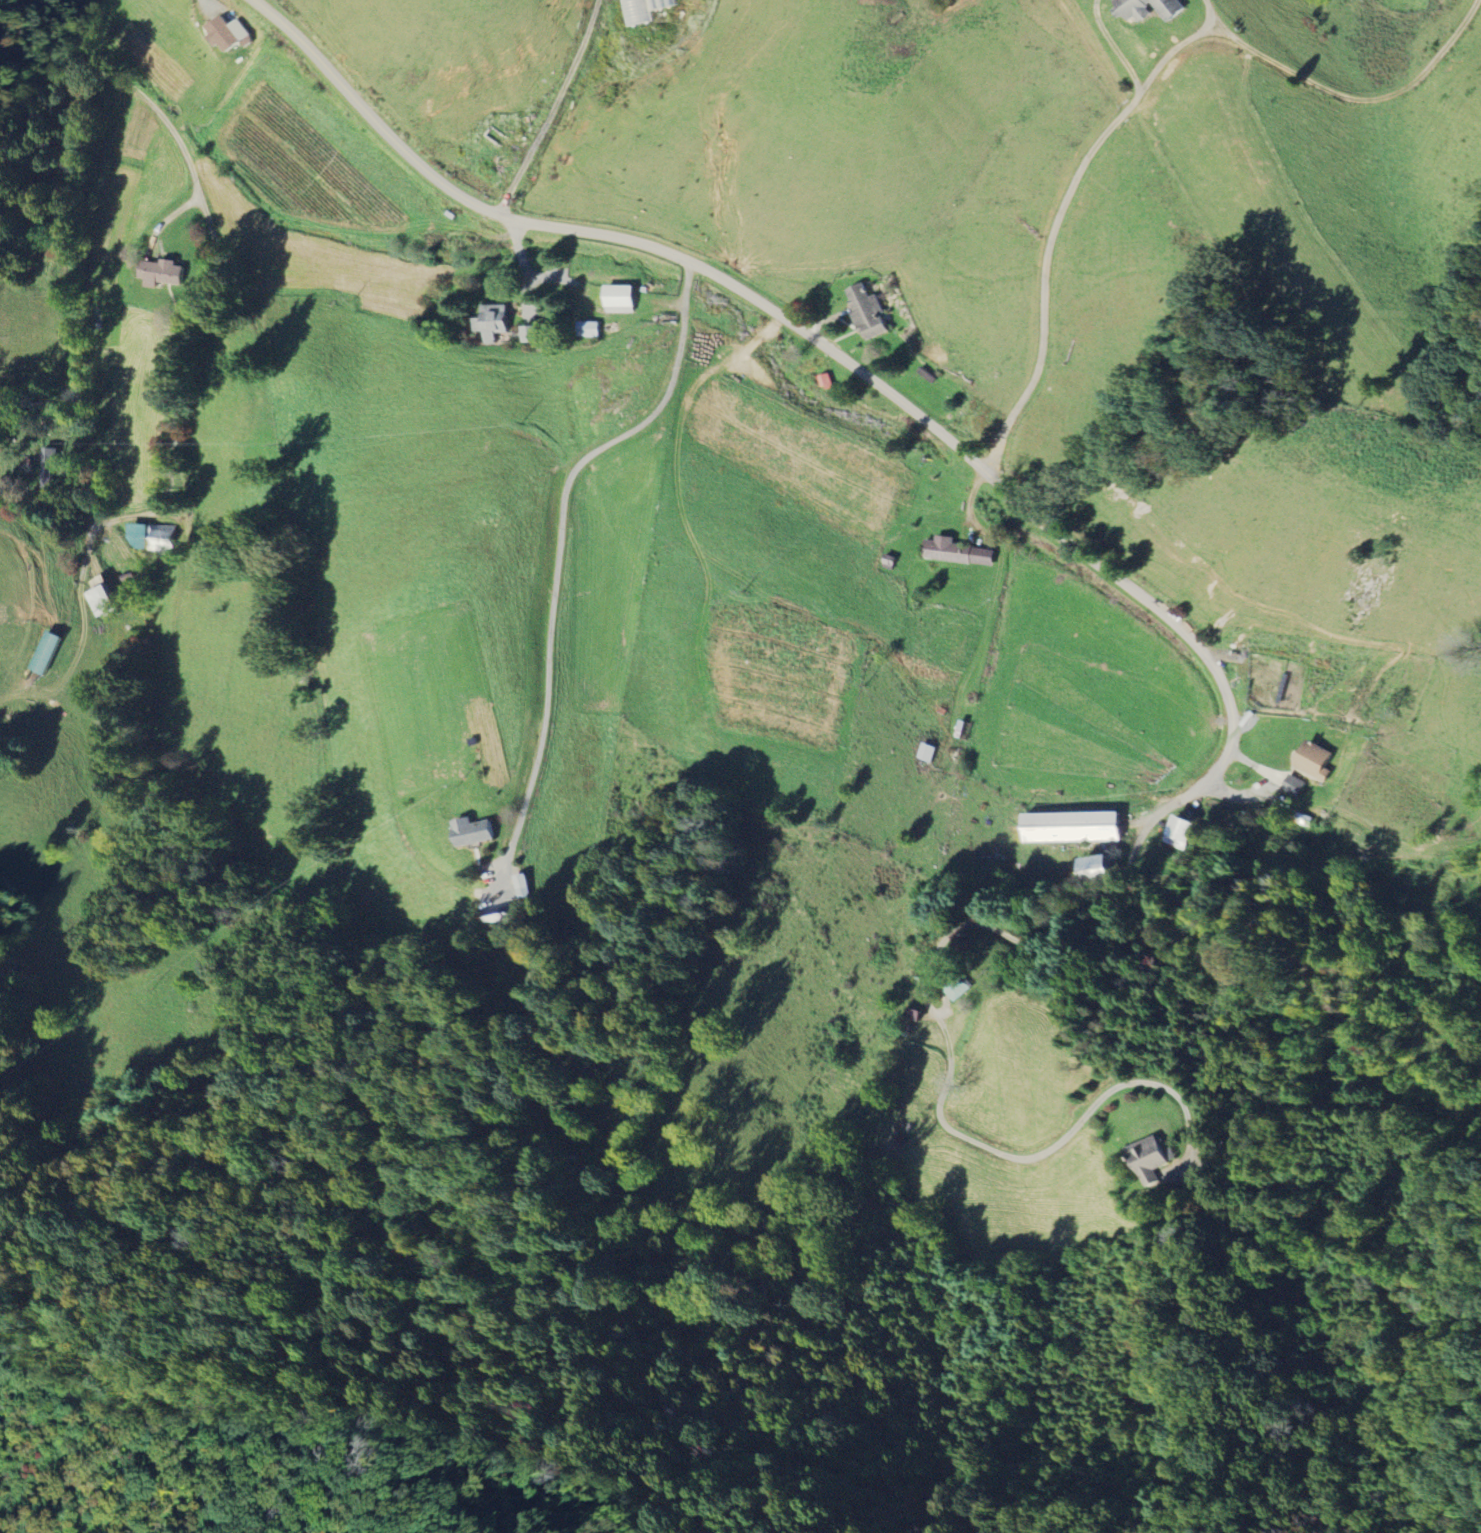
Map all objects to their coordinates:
building: (1152, 9)
building: (645, 10)
building: (229, 34)
road: (1142, 91)
road: (550, 107)
building: (165, 274)
road: (205, 288)
building: (621, 299)
building: (868, 312)
building: (492, 322)
building: (589, 329)
building: (50, 462)
building: (153, 536)
road: (559, 539)
building: (958, 552)
building: (105, 596)
road: (1147, 599)
building: (48, 653)
building: (928, 752)
building: (1316, 761)
building: (1293, 785)
building: (1075, 827)
building: (476, 831)
building: (1179, 832)
building: (1098, 865)
building: (524, 886)
building: (1151, 1159)

